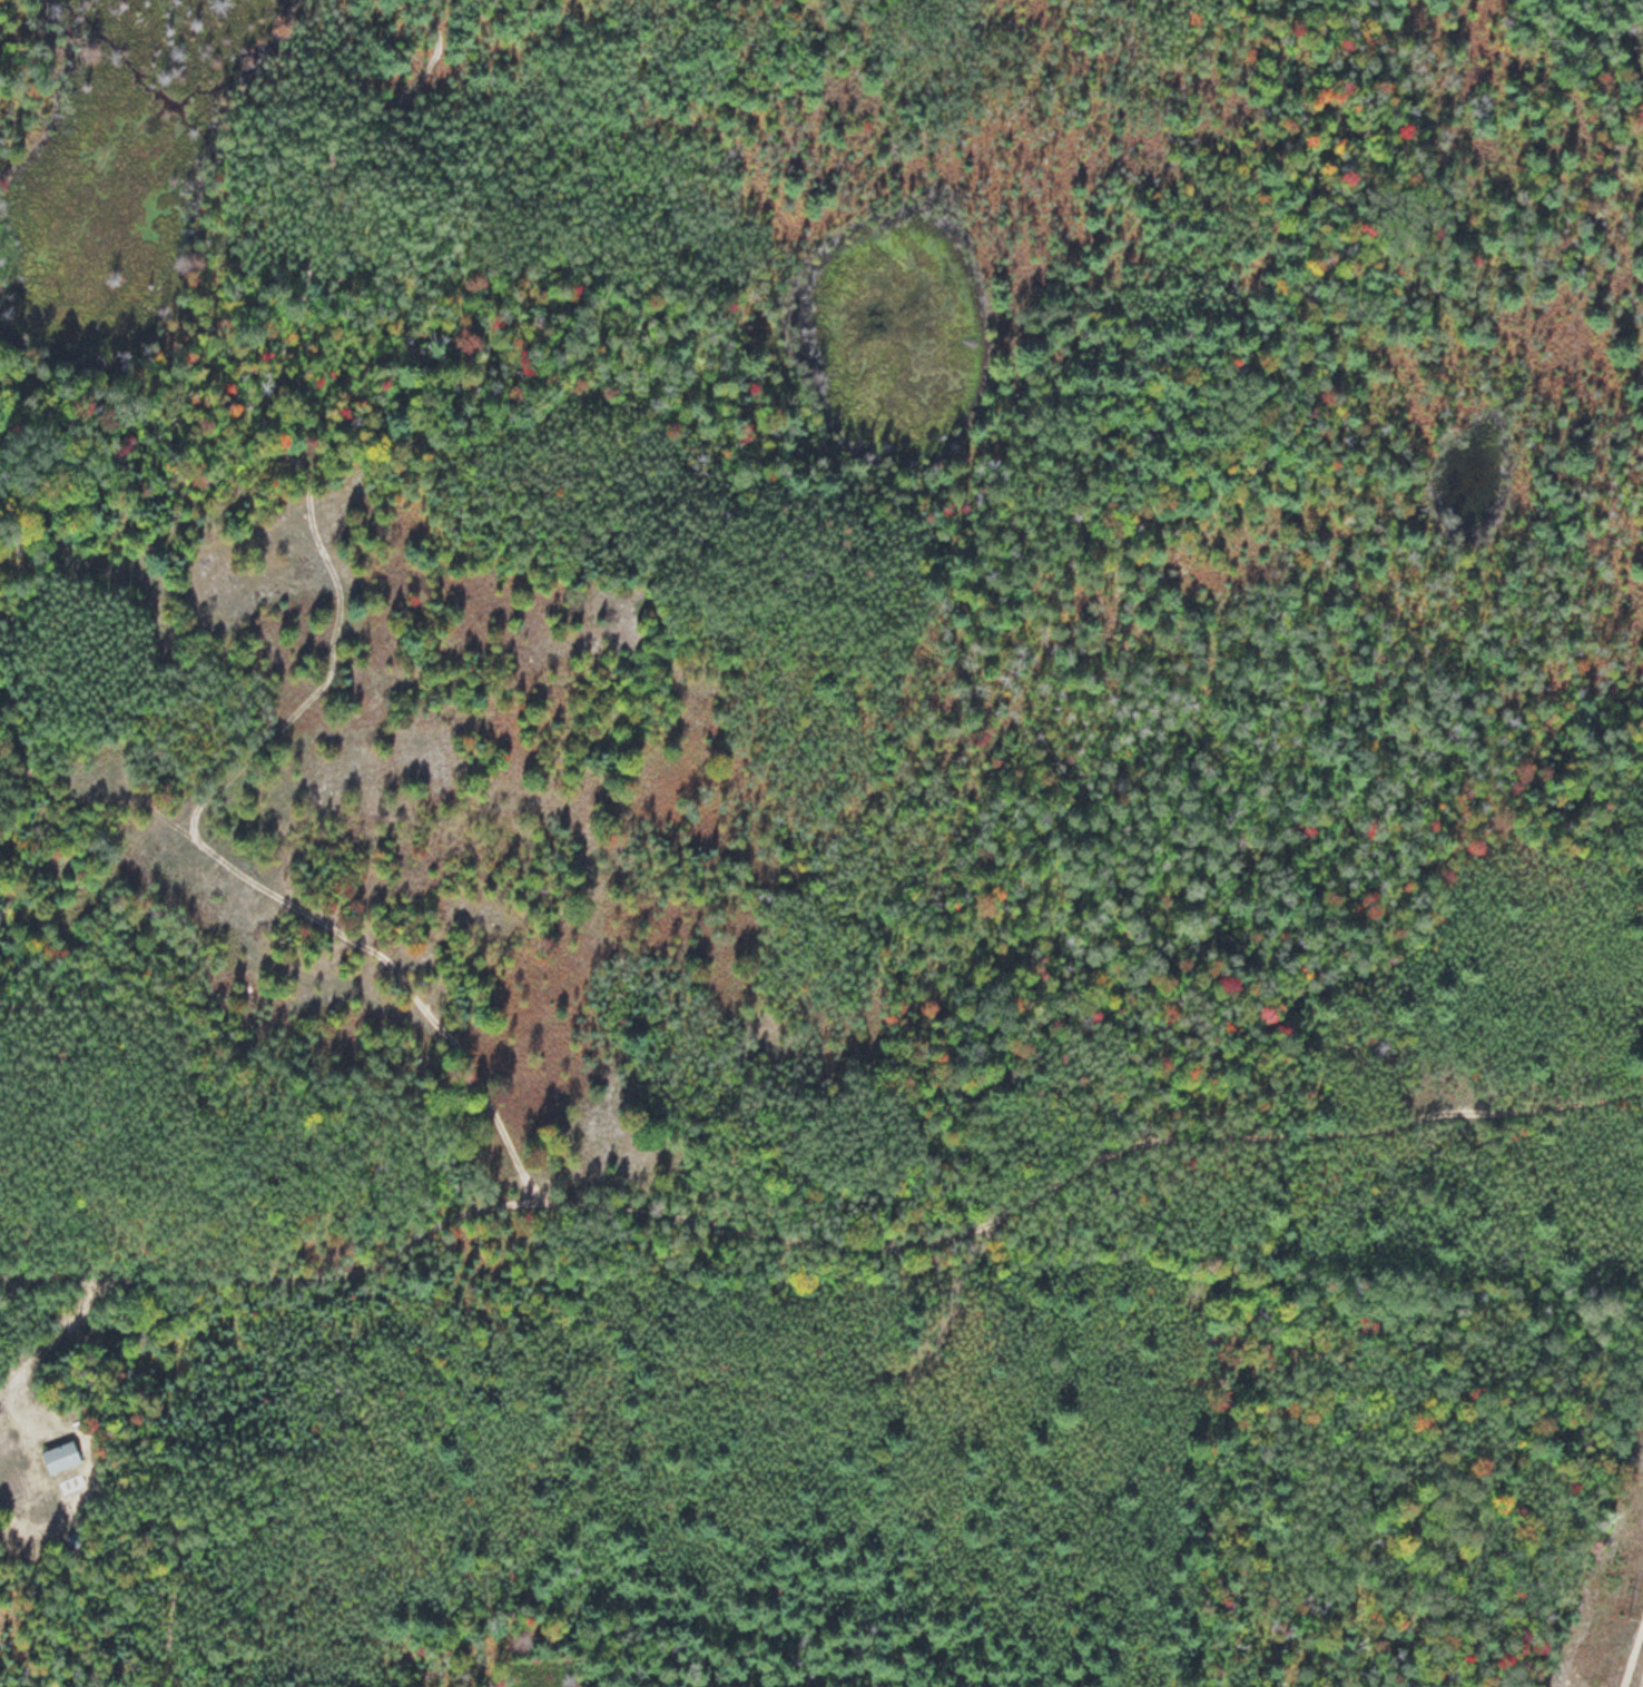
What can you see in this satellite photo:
road: (292, 421)
road: (383, 960)
road: (825, 1241)
road: (36, 1352)
building: (59, 1456)
road: (1632, 1651)

